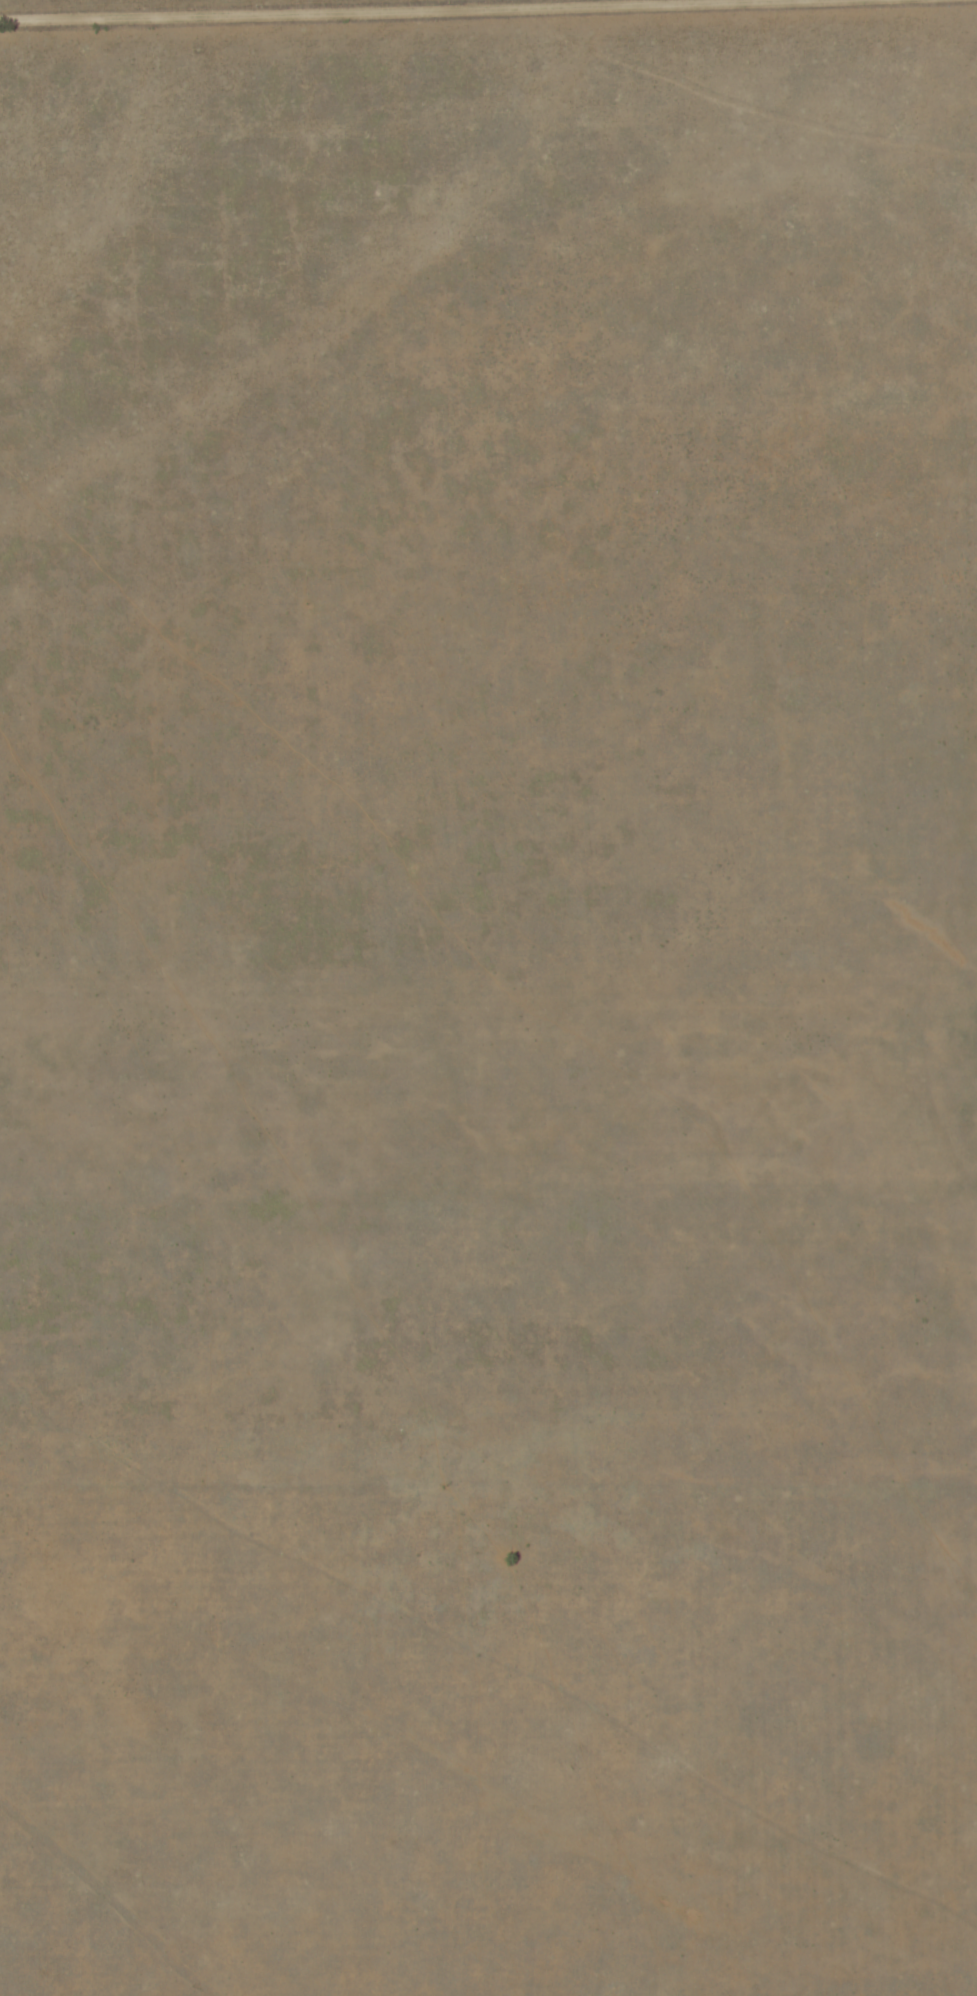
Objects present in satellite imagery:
road: (468, 16)

